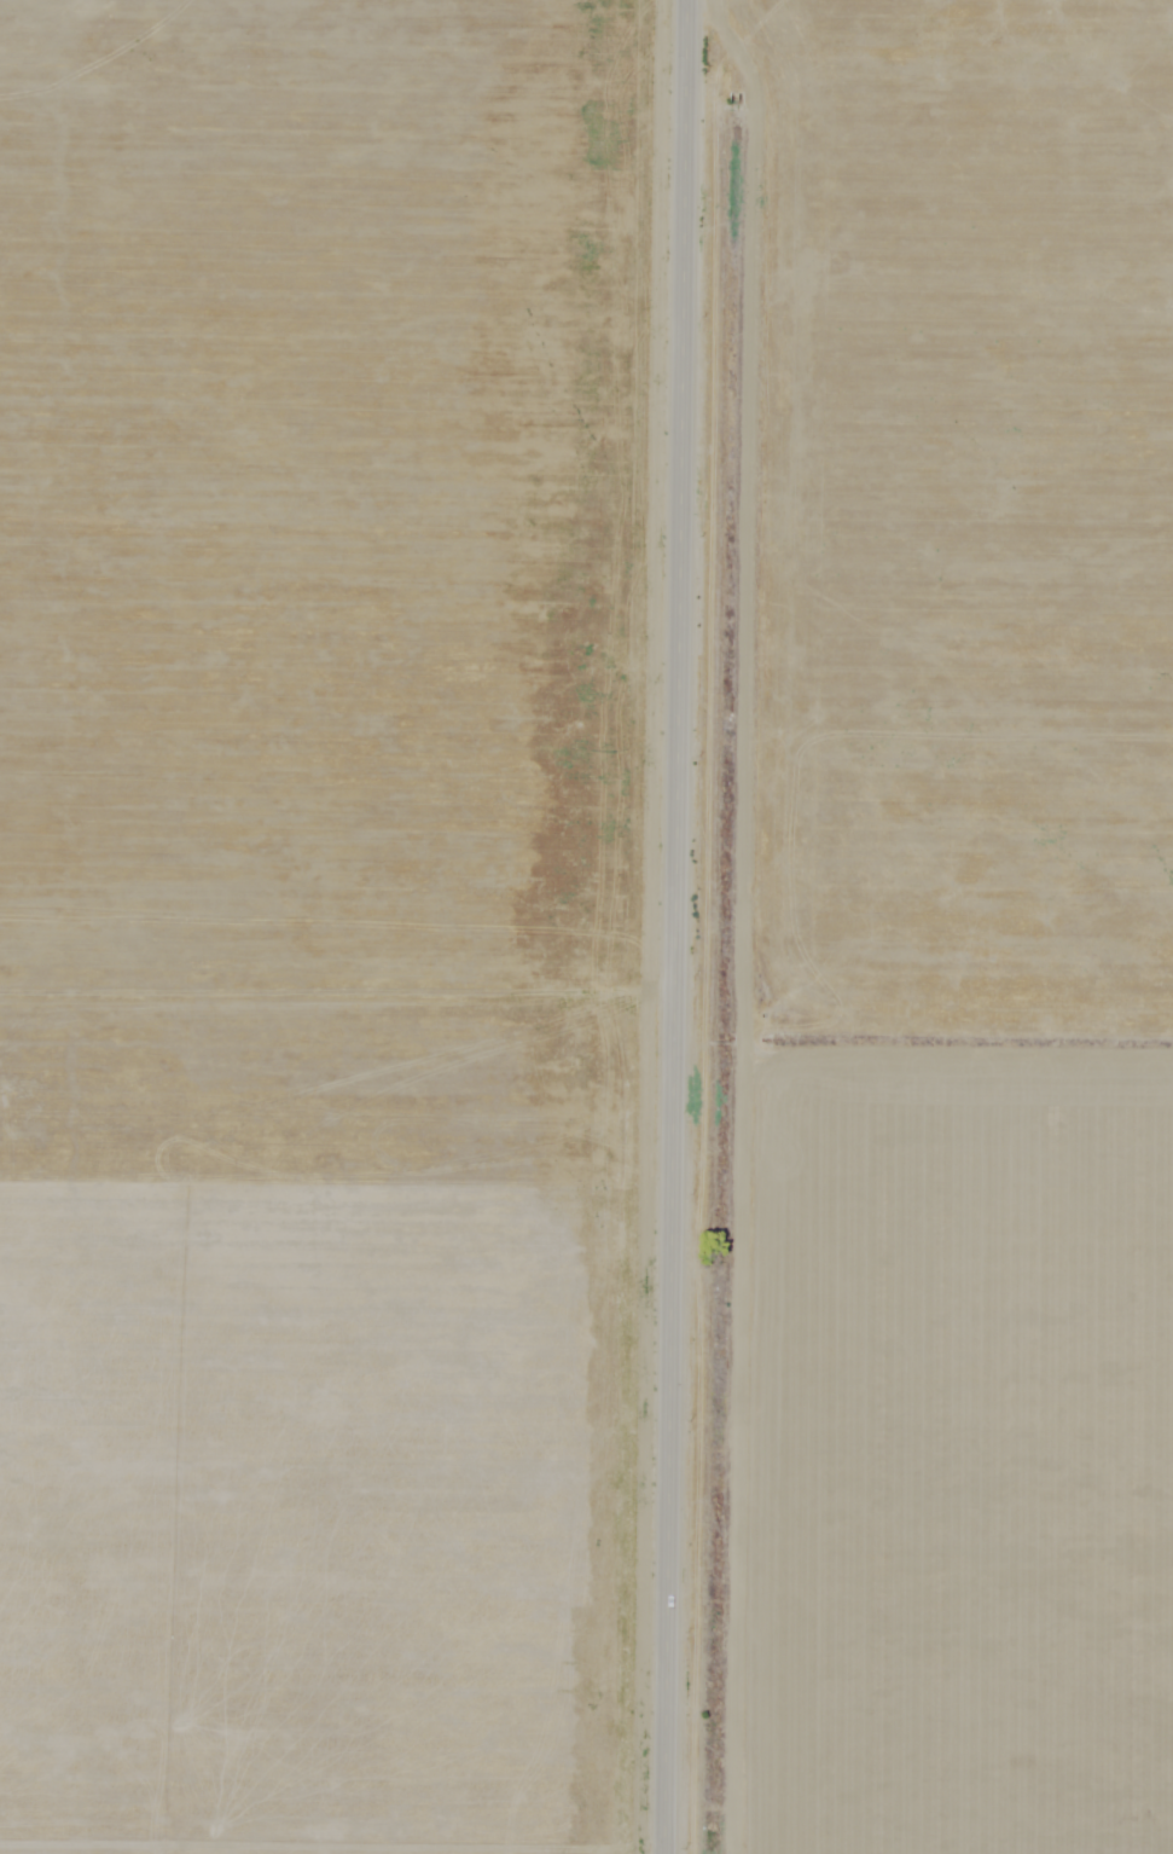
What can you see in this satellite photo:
road: (679, 927)

